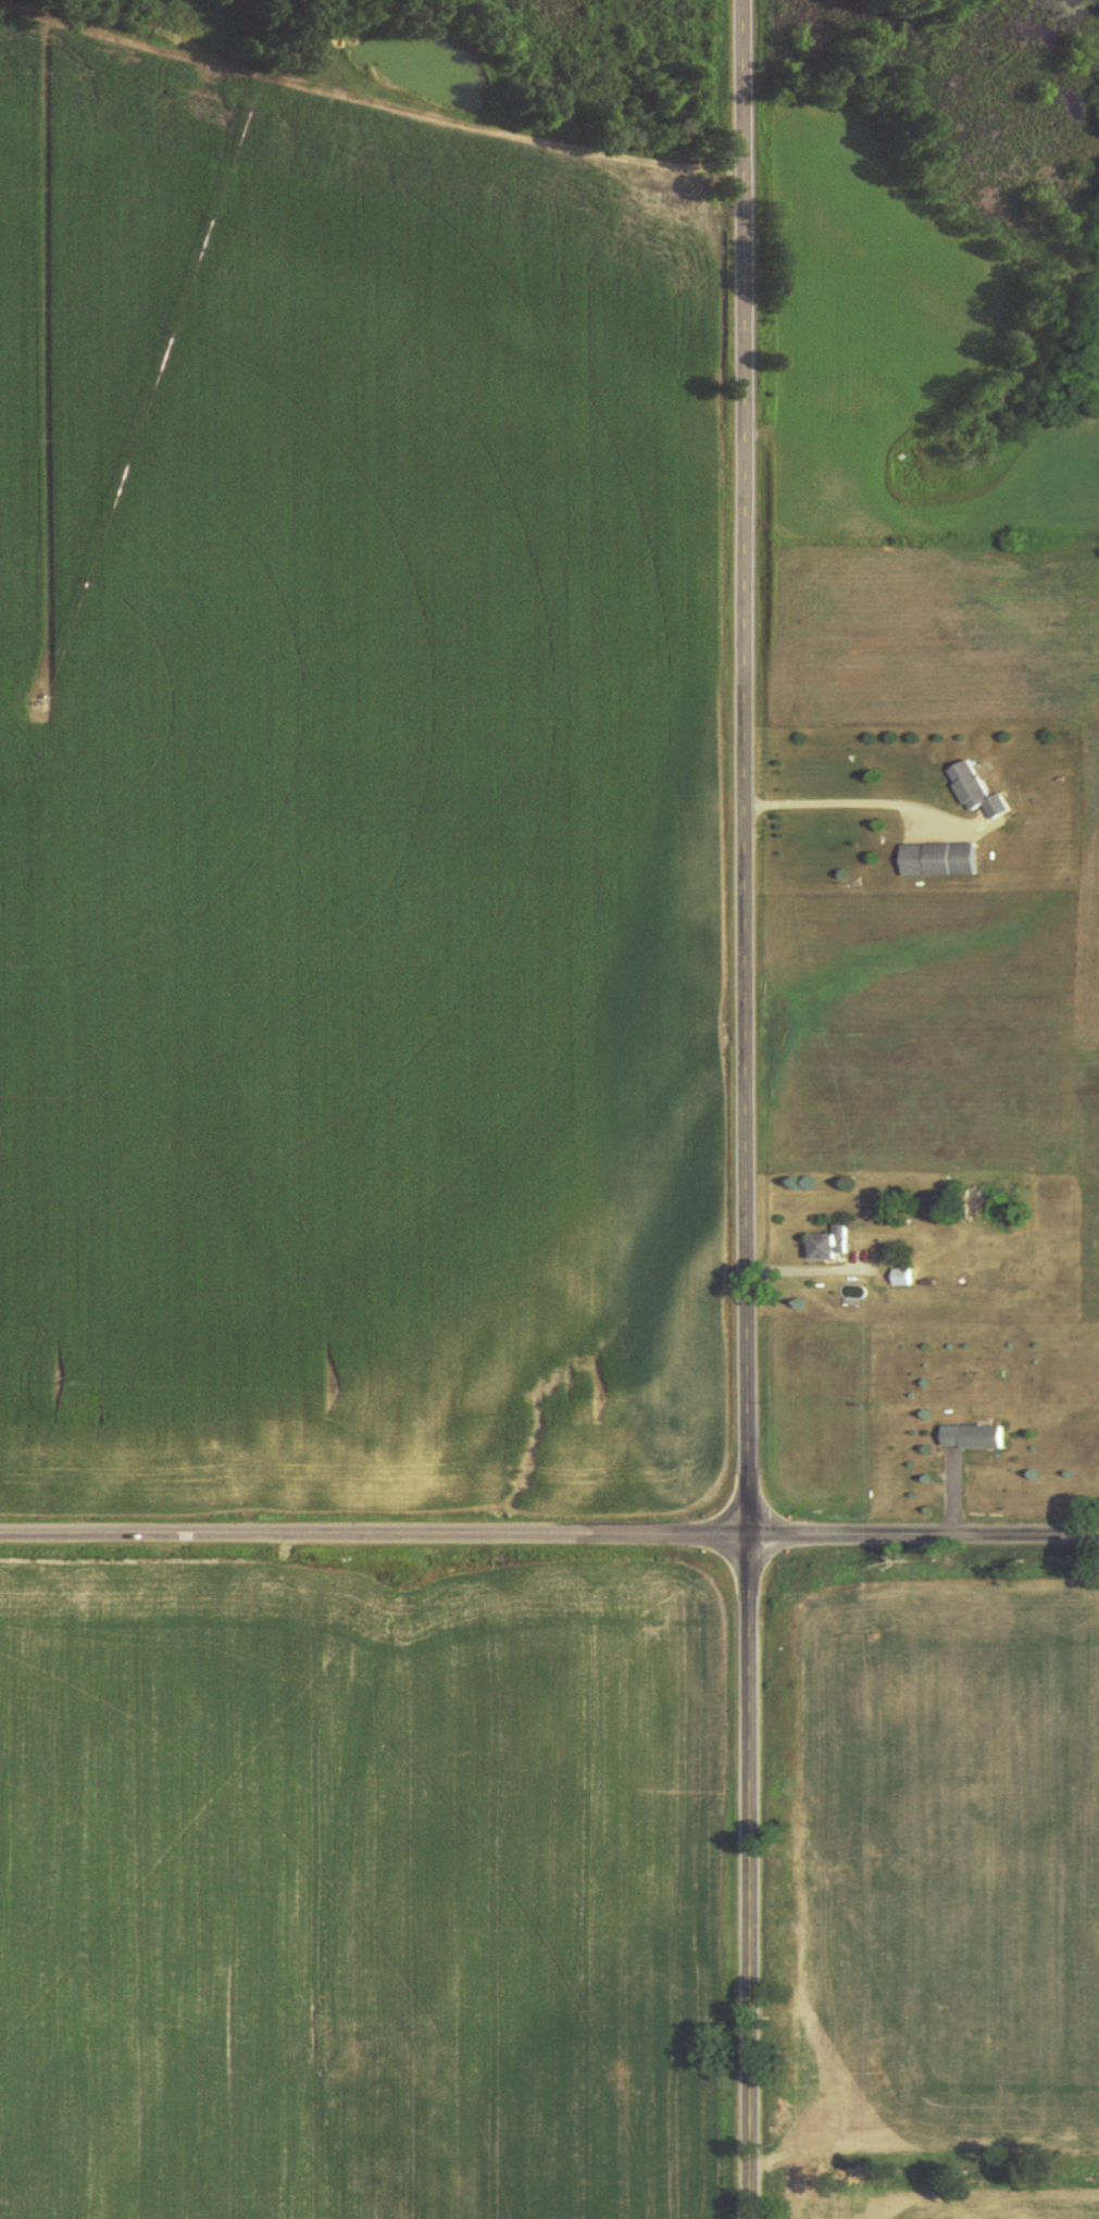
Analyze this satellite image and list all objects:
road: (749, 770)
building: (965, 786)
building: (935, 860)
building: (966, 1205)
building: (825, 1247)
building: (969, 1437)
road: (926, 1538)
road: (376, 1539)
road: (753, 1880)

